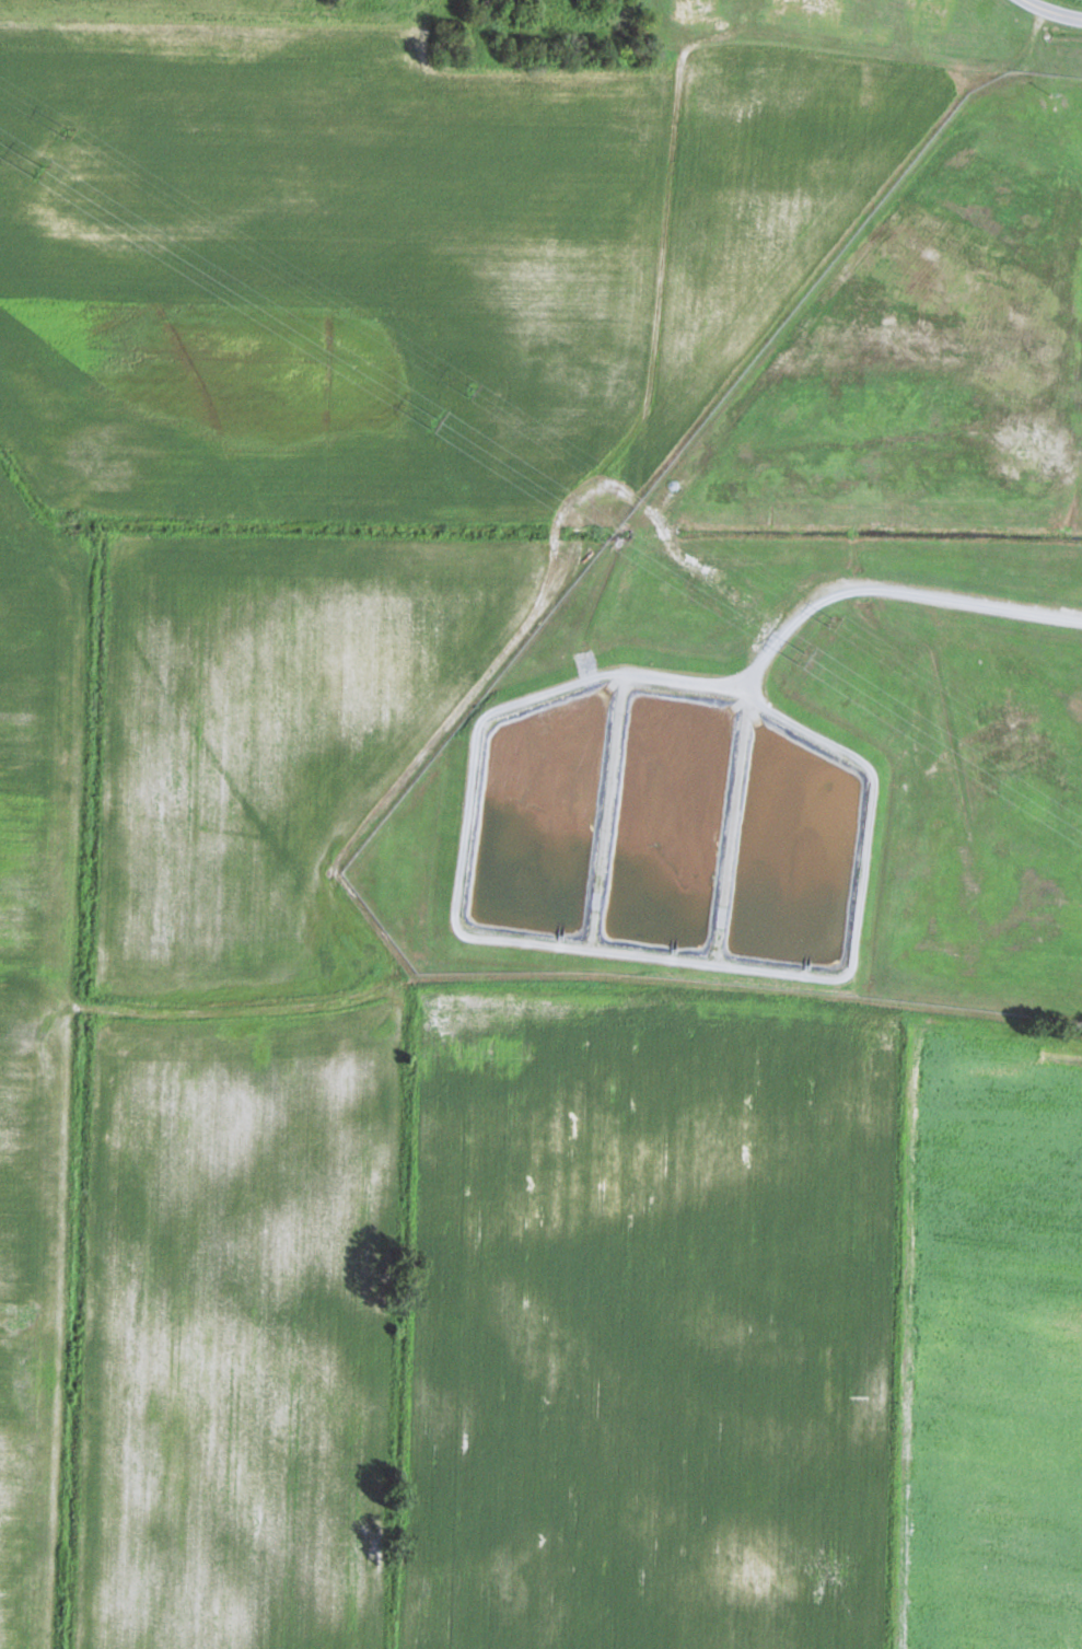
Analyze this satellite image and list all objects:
building: (815, 9)
building: (696, 10)
road: (1054, 11)
building: (931, 13)
power tower: (68, 131)
power tower: (40, 169)
power tower: (469, 391)
power tower: (434, 421)
power tower: (831, 619)
power tower: (802, 657)

